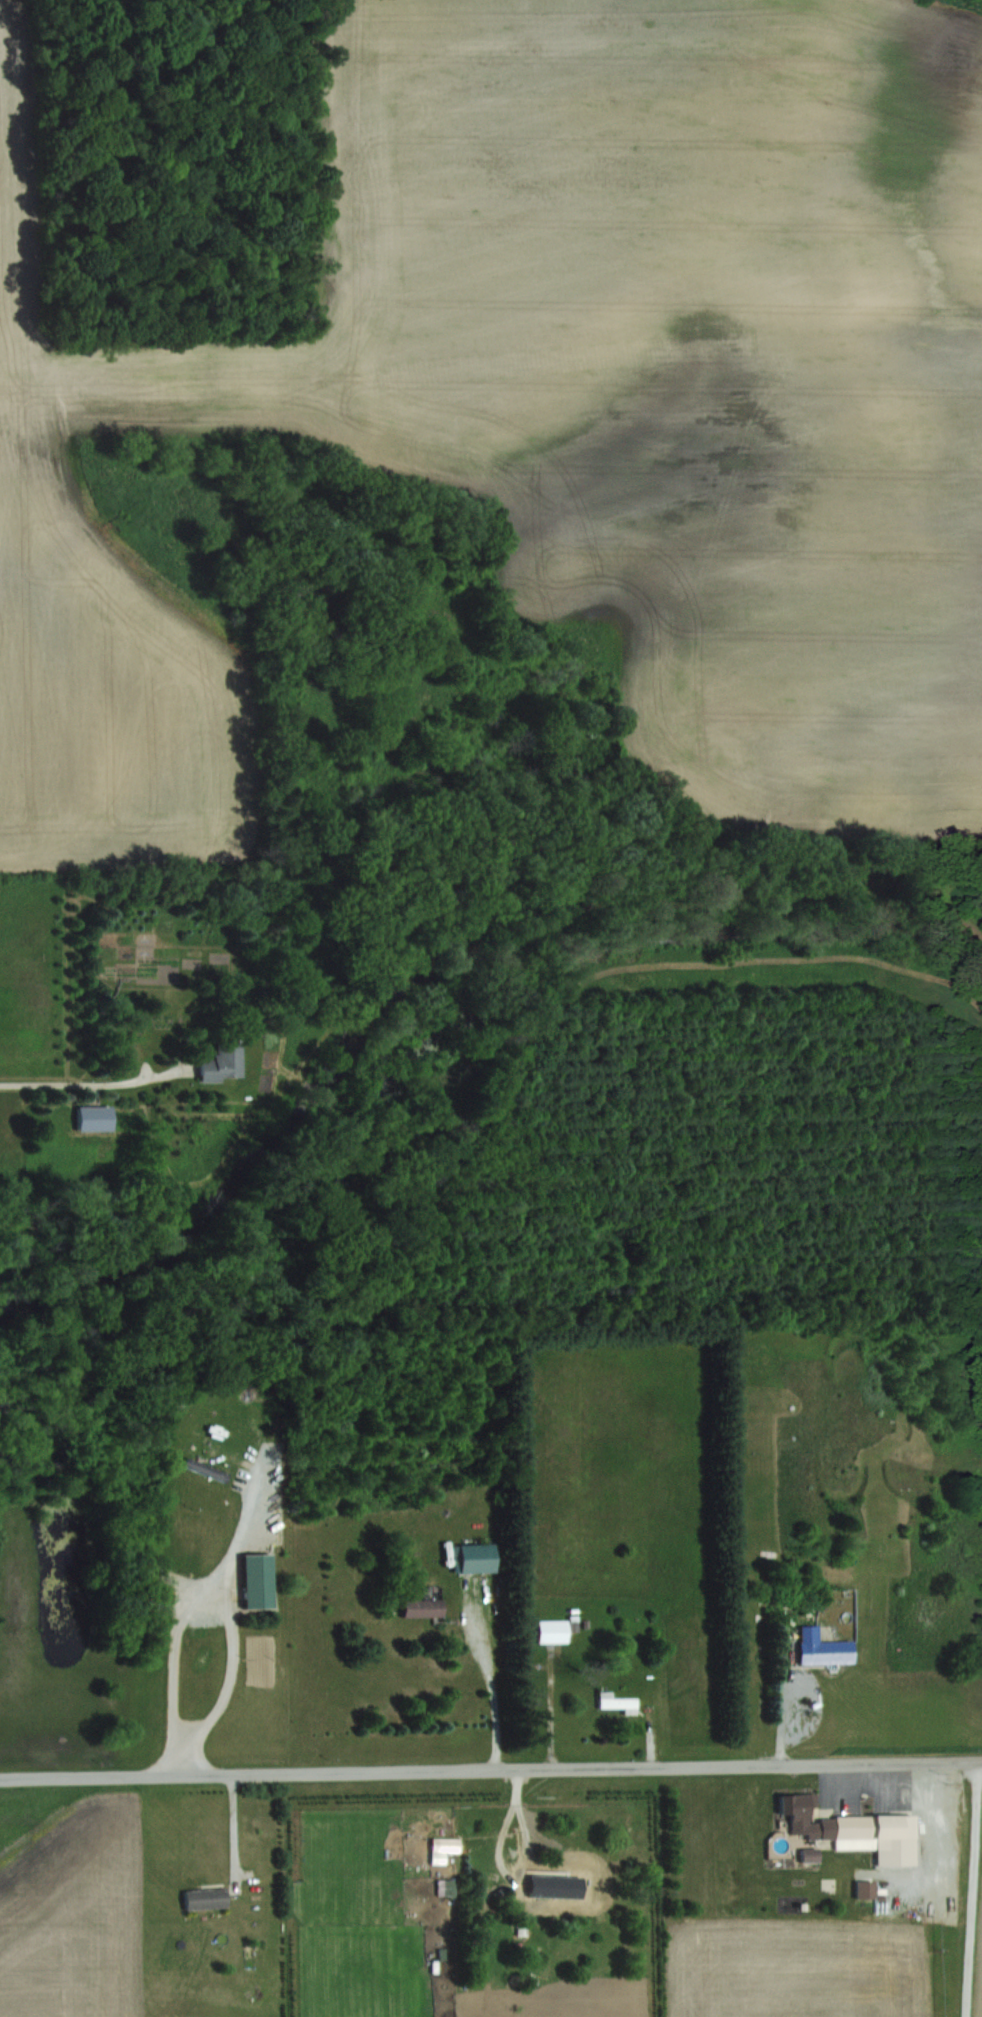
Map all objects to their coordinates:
building: (220, 1060)
road: (92, 1083)
building: (93, 1117)
building: (474, 1557)
building: (250, 1580)
building: (420, 1607)
road: (231, 1626)
building: (551, 1630)
building: (821, 1647)
road: (495, 1693)
building: (617, 1702)
road: (783, 1707)
road: (552, 1713)
road: (490, 1768)
road: (234, 1827)
building: (854, 1828)
building: (557, 1888)
road: (963, 1889)
building: (204, 1896)

